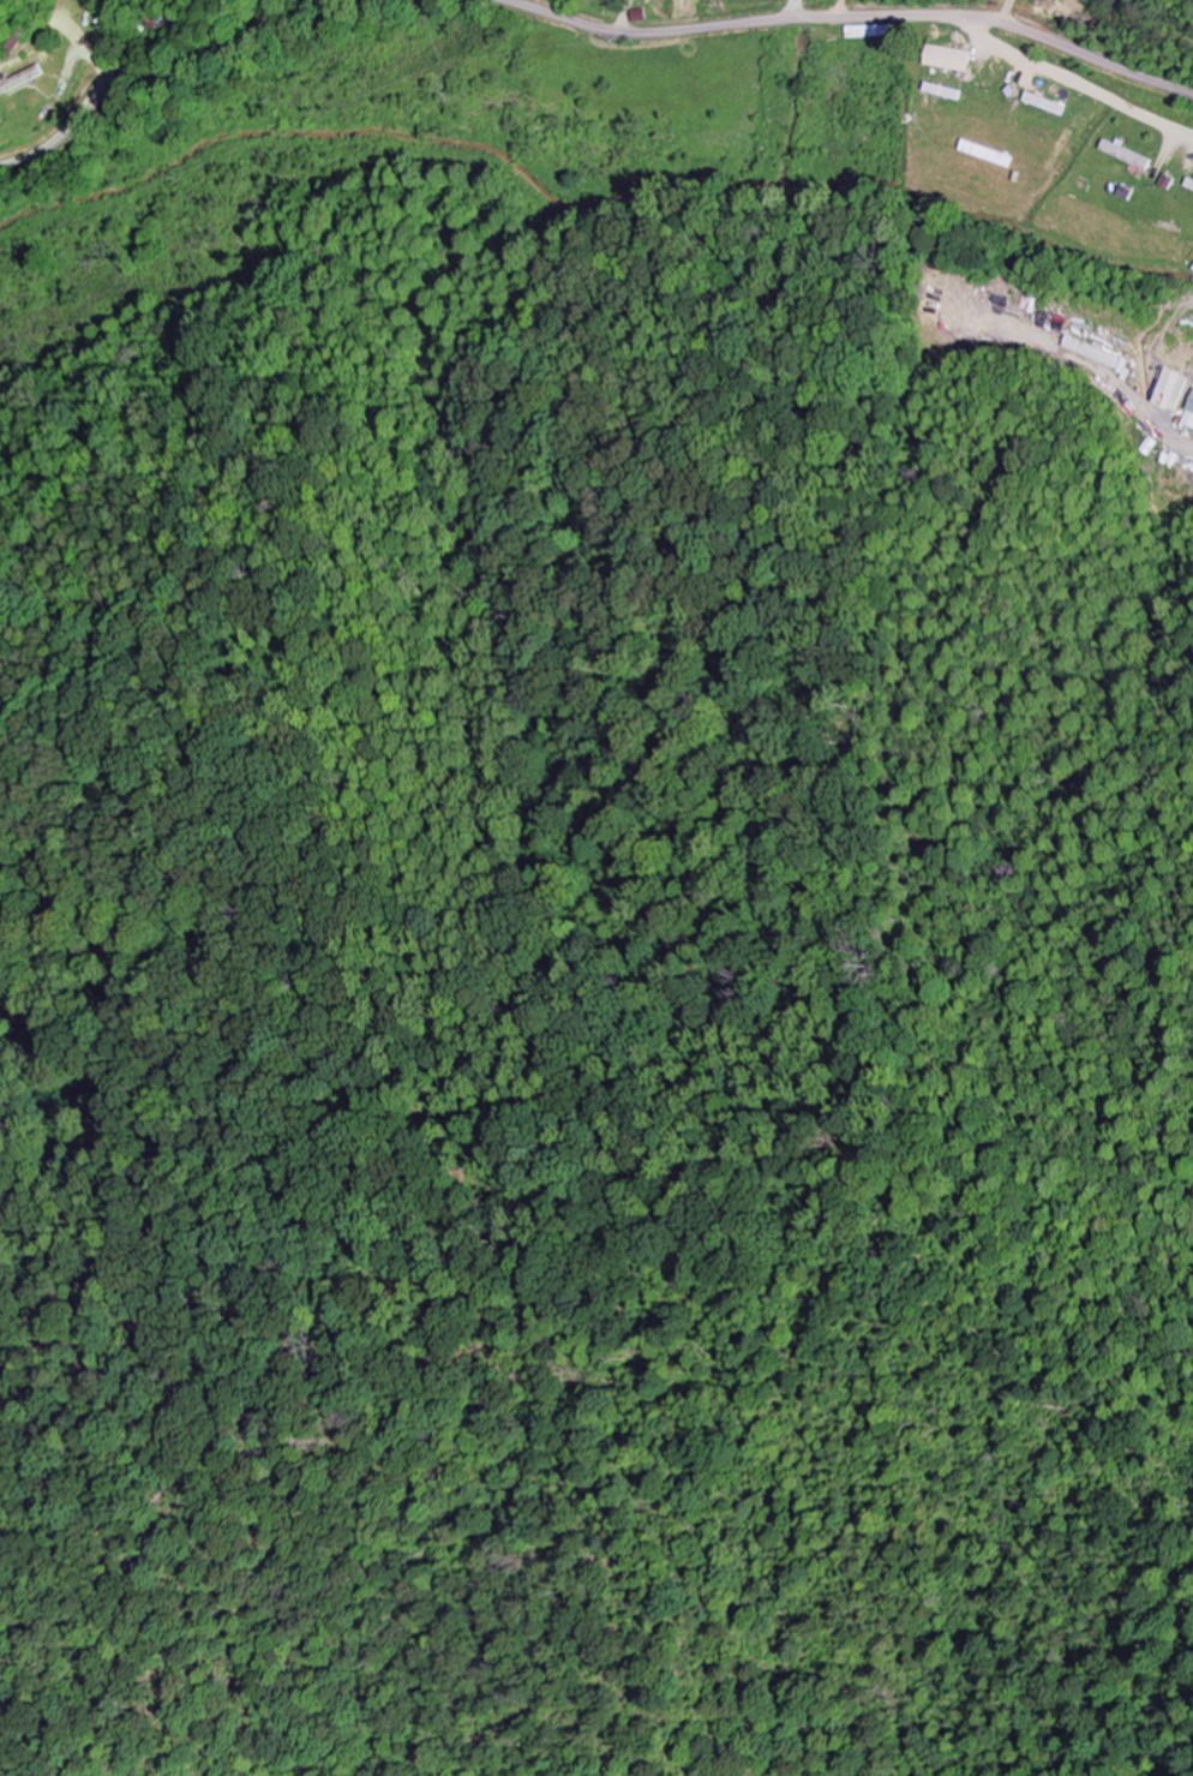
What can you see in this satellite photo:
building: (617, 0)
road: (793, 10)
road: (852, 16)
road: (163, 68)
building: (28, 80)
building: (1131, 155)
building: (1176, 389)
building: (1189, 418)

